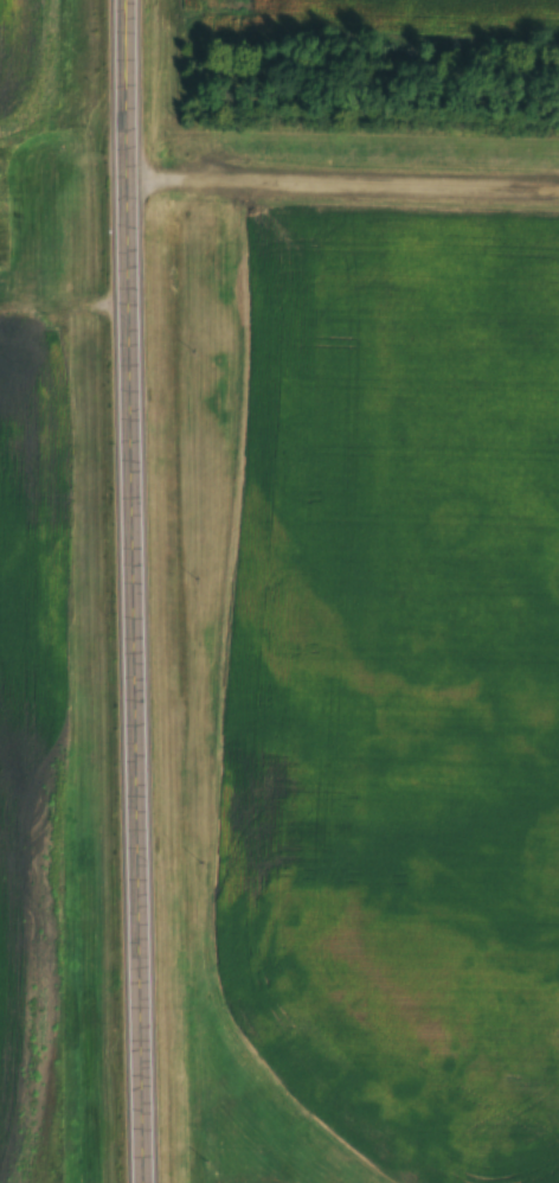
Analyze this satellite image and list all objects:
road: (349, 181)
road: (146, 590)

